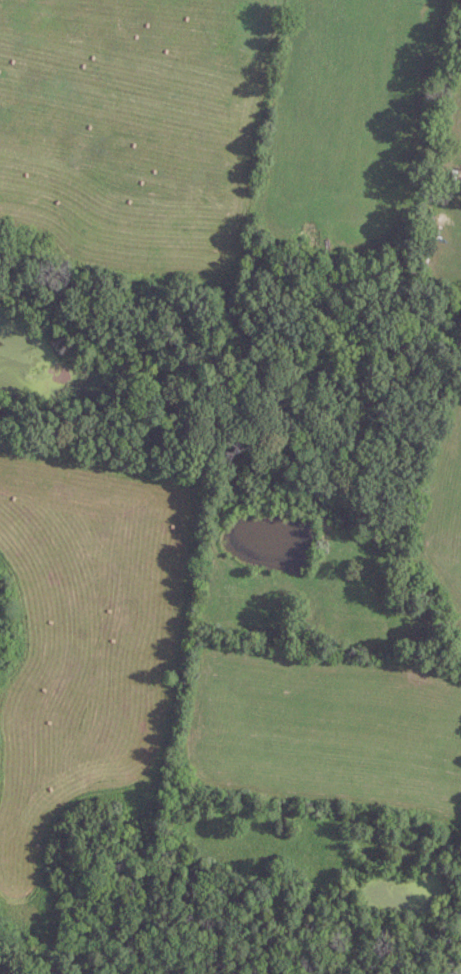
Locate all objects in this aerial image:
building: (455, 176)

